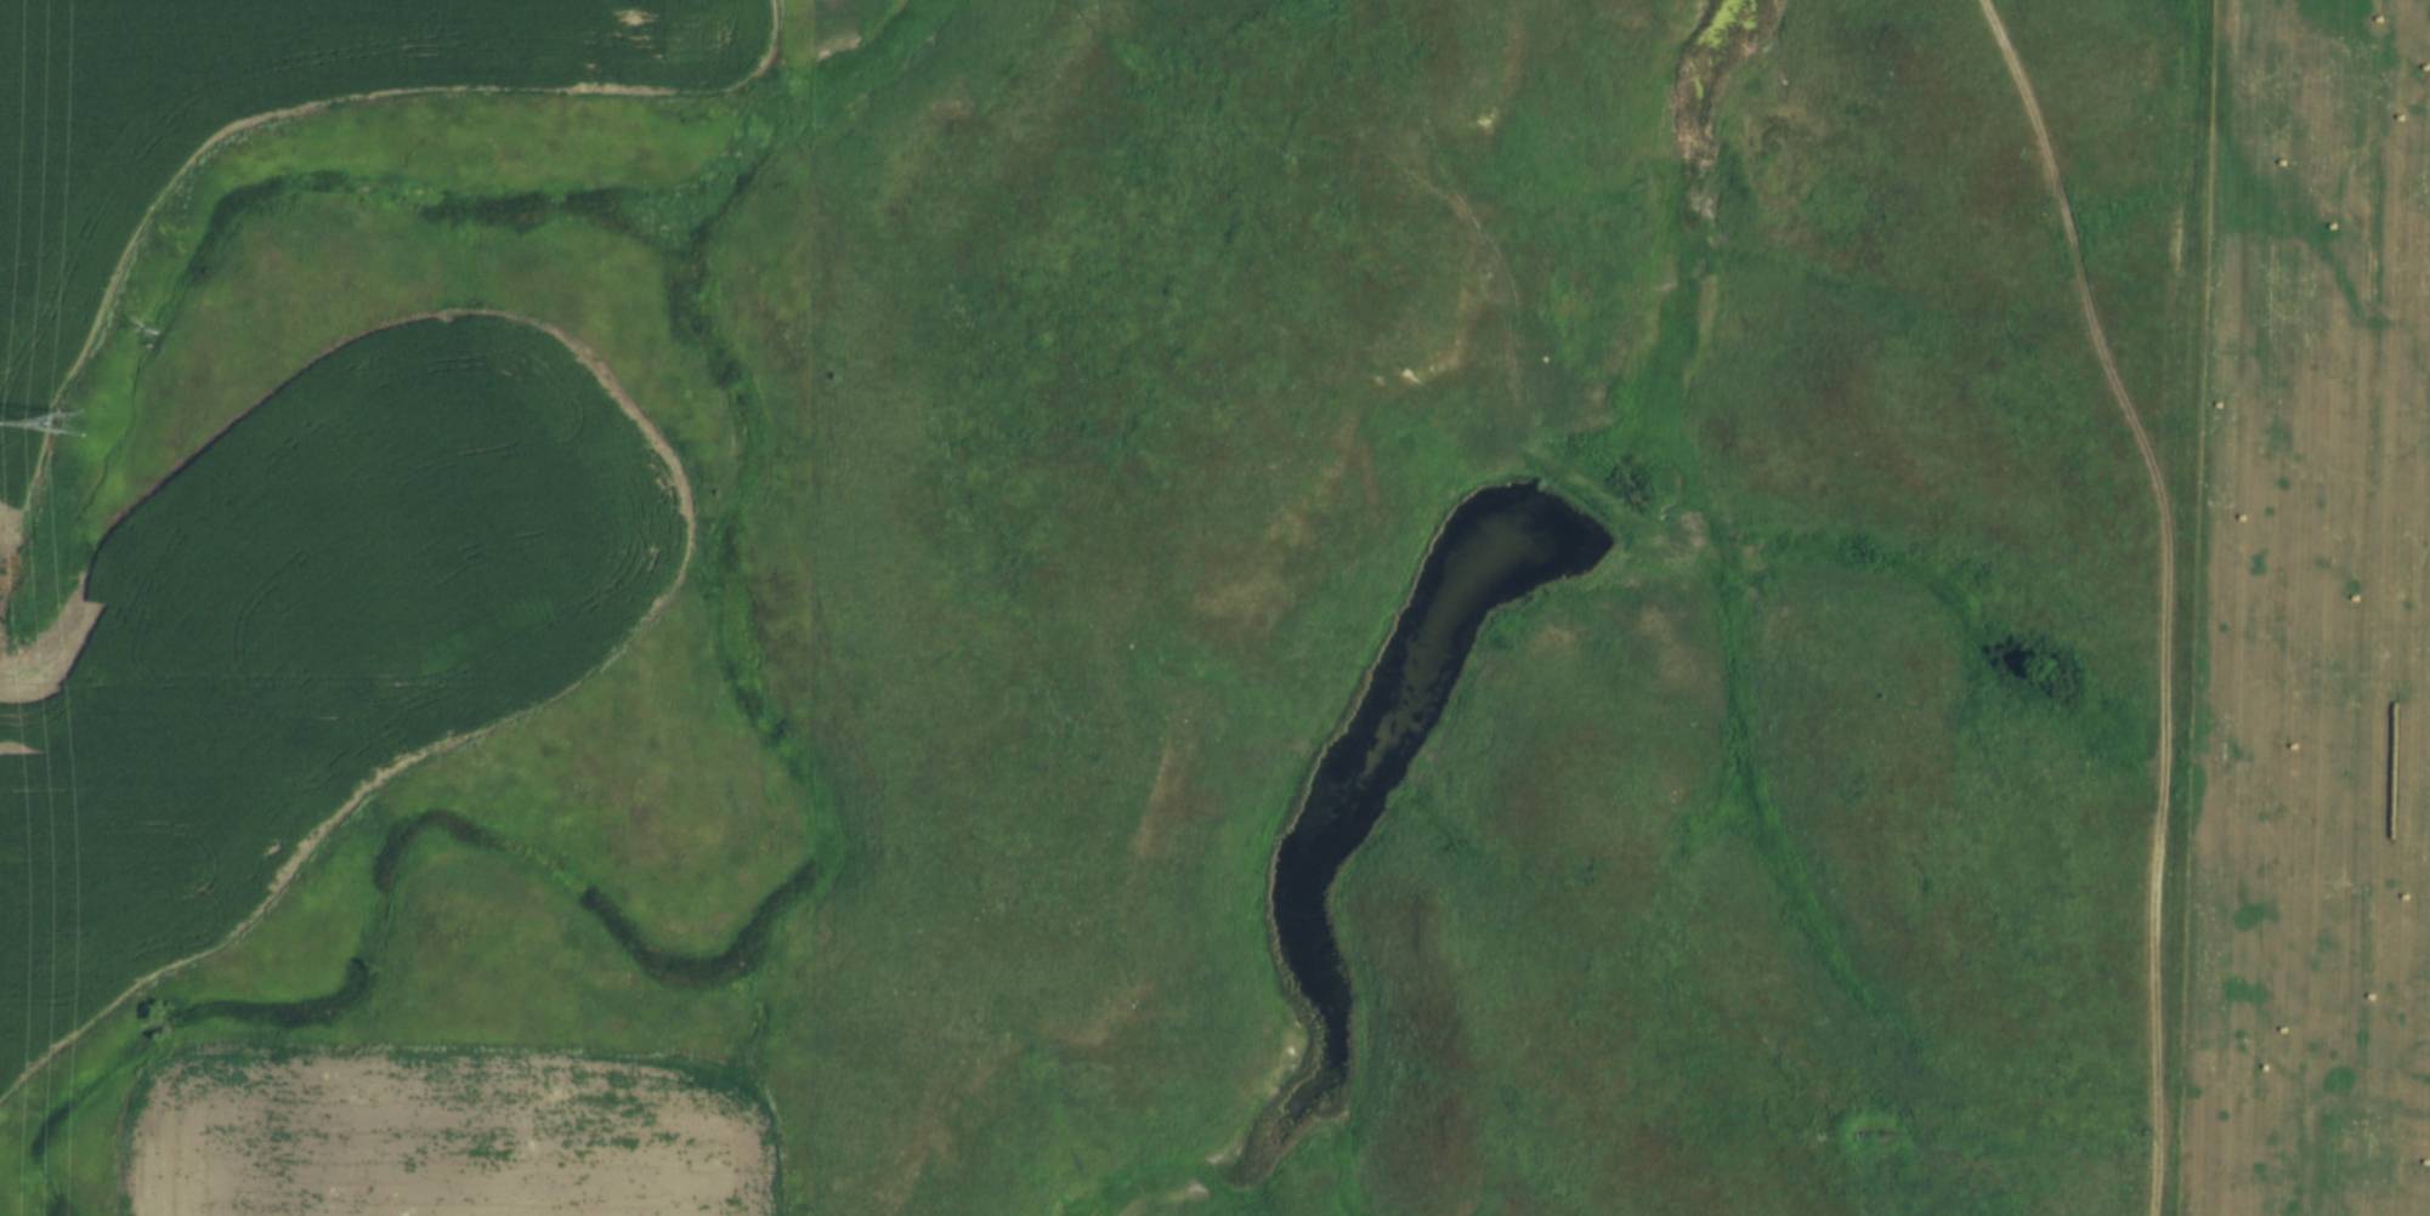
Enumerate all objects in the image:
power tower: (69, 425)

